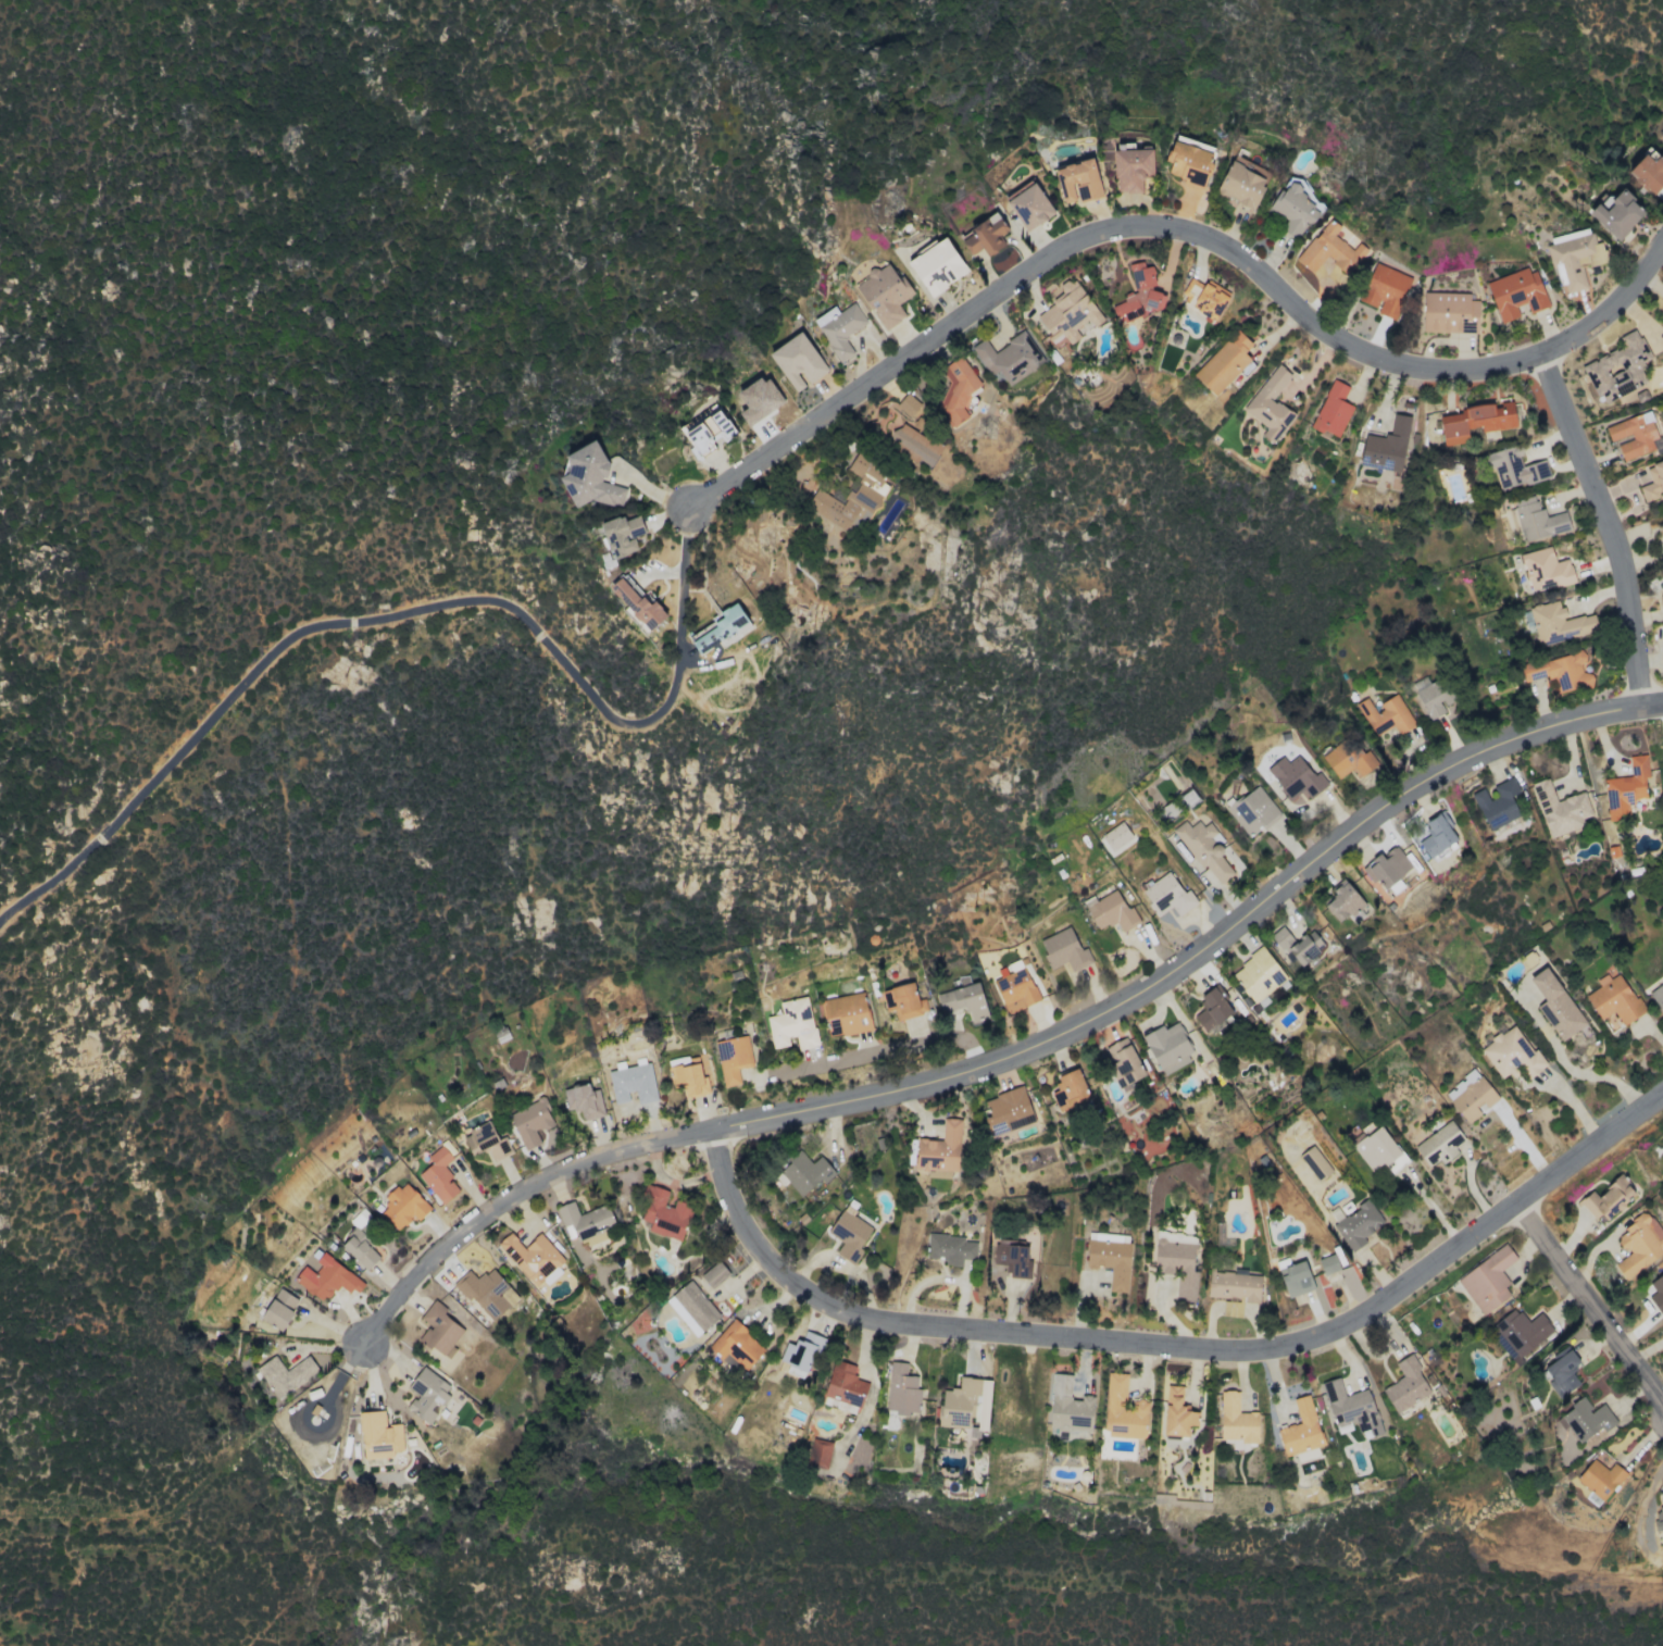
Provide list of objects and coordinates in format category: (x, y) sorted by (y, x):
building: (1188, 161)
building: (1131, 170)
building: (1648, 172)
building: (1078, 182)
building: (1240, 186)
building: (1030, 205)
building: (1295, 209)
building: (1617, 214)
road: (1179, 232)
building: (984, 236)
building: (1330, 250)
building: (1574, 258)
building: (937, 265)
building: (1385, 290)
building: (884, 294)
building: (1516, 294)
building: (1139, 295)
building: (1203, 297)
building: (1449, 313)
building: (1067, 314)
building: (839, 329)
building: (1009, 358)
building: (798, 362)
building: (1224, 363)
building: (1618, 369)
building: (956, 391)
building: (758, 400)
building: (908, 406)
building: (1270, 406)
building: (1333, 410)
building: (1475, 422)
building: (705, 427)
building: (1634, 435)
building: (914, 446)
building: (1386, 447)
building: (1511, 467)
building: (589, 477)
building: (1653, 482)
building: (851, 498)
building: (1537, 520)
road: (1610, 525)
building: (621, 535)
building: (1545, 570)
building: (1661, 581)
building: (636, 602)
building: (1559, 623)
building: (717, 629)
building: (1559, 672)
road: (672, 683)
building: (1431, 696)
building: (1385, 715)
building: (1348, 760)
building: (1296, 778)
building: (1626, 788)
building: (1497, 805)
building: (1560, 809)
building: (1252, 811)
building: (1436, 836)
building: (1115, 839)
building: (1202, 848)
building: (1387, 869)
building: (1166, 896)
building: (1346, 905)
building: (1110, 912)
building: (1297, 945)
building: (1064, 950)
building: (1258, 975)
building: (1014, 984)
building: (1658, 996)
building: (1614, 999)
building: (903, 1001)
building: (963, 1001)
building: (1555, 1006)
building: (1211, 1010)
building: (846, 1014)
building: (792, 1024)
building: (1167, 1047)
road: (876, 1050)
building: (1512, 1055)
road: (1023, 1057)
building: (733, 1059)
building: (1123, 1063)
road: (1598, 1075)
building: (688, 1076)
building: (633, 1084)
building: (1070, 1090)
building: (1471, 1096)
building: (584, 1101)
road: (1572, 1102)
building: (1008, 1111)
building: (530, 1122)
building: (485, 1140)
road: (1525, 1143)
building: (1439, 1145)
building: (940, 1149)
building: (1375, 1149)
building: (1315, 1163)
building: (1396, 1163)
building: (804, 1173)
building: (439, 1176)
building: (1608, 1199)
building: (403, 1207)
road: (1430, 1208)
building: (664, 1213)
building: (585, 1221)
building: (1358, 1225)
building: (849, 1235)
building: (1638, 1246)
building: (359, 1248)
building: (950, 1249)
building: (533, 1258)
building: (1110, 1258)
building: (1012, 1259)
building: (1177, 1261)
building: (1328, 1264)
building: (714, 1274)
building: (327, 1279)
building: (1296, 1280)
building: (1487, 1281)
building: (1234, 1290)
building: (487, 1293)
building: (1658, 1293)
road: (1589, 1304)
building: (692, 1308)
building: (278, 1309)
building: (439, 1331)
building: (1521, 1333)
building: (736, 1345)
road: (1176, 1348)
building: (800, 1354)
building: (1562, 1372)
building: (285, 1375)
building: (1405, 1385)
building: (901, 1391)
building: (426, 1395)
building: (965, 1406)
building: (1068, 1407)
building: (1351, 1408)
building: (1123, 1411)
building: (1177, 1413)
building: (1237, 1420)
building: (1586, 1420)
building: (1301, 1429)
building: (378, 1436)
building: (818, 1454)
building: (1600, 1479)
building: (1659, 1521)

